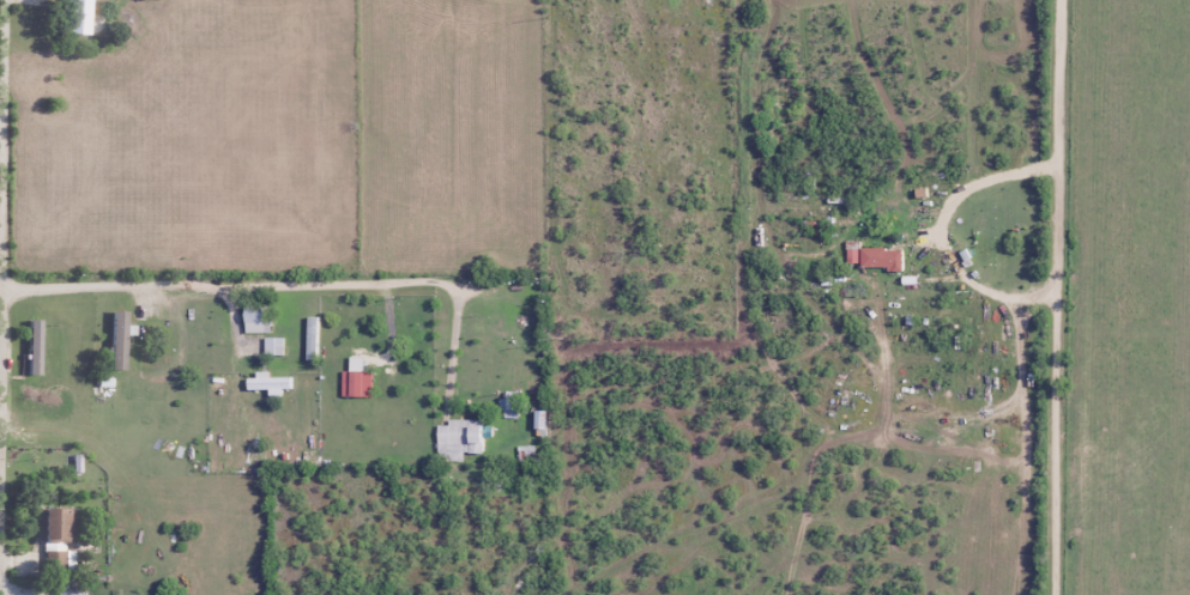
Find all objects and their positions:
building: (77, 17)
road: (947, 233)
building: (882, 259)
road: (286, 286)
road: (6, 296)
road: (1057, 297)
building: (259, 320)
building: (313, 339)
building: (117, 341)
building: (460, 437)
building: (55, 526)
building: (56, 560)
building: (71, 587)
road: (12, 593)

